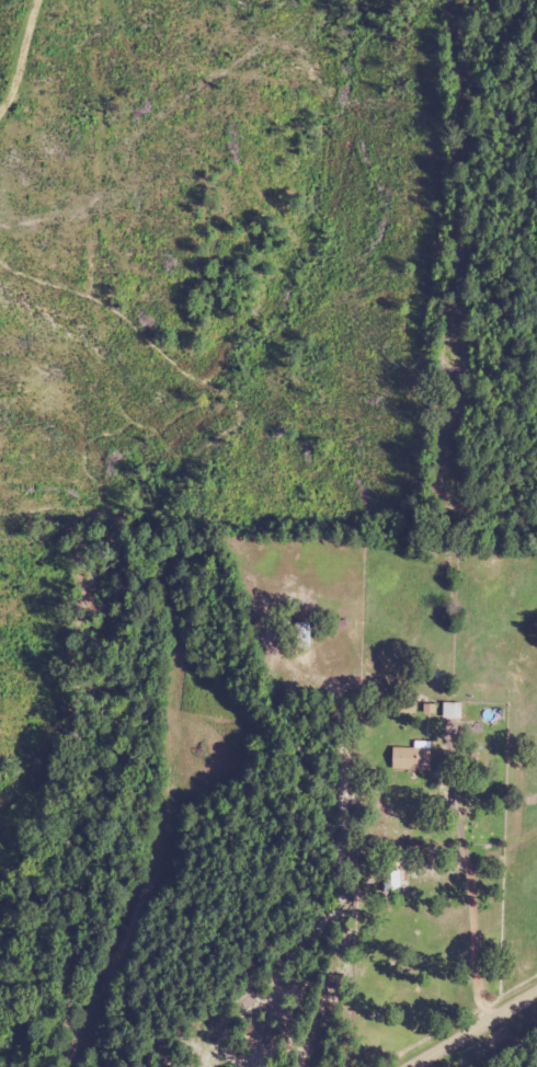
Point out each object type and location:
road: (494, 1041)
road: (467, 1062)

